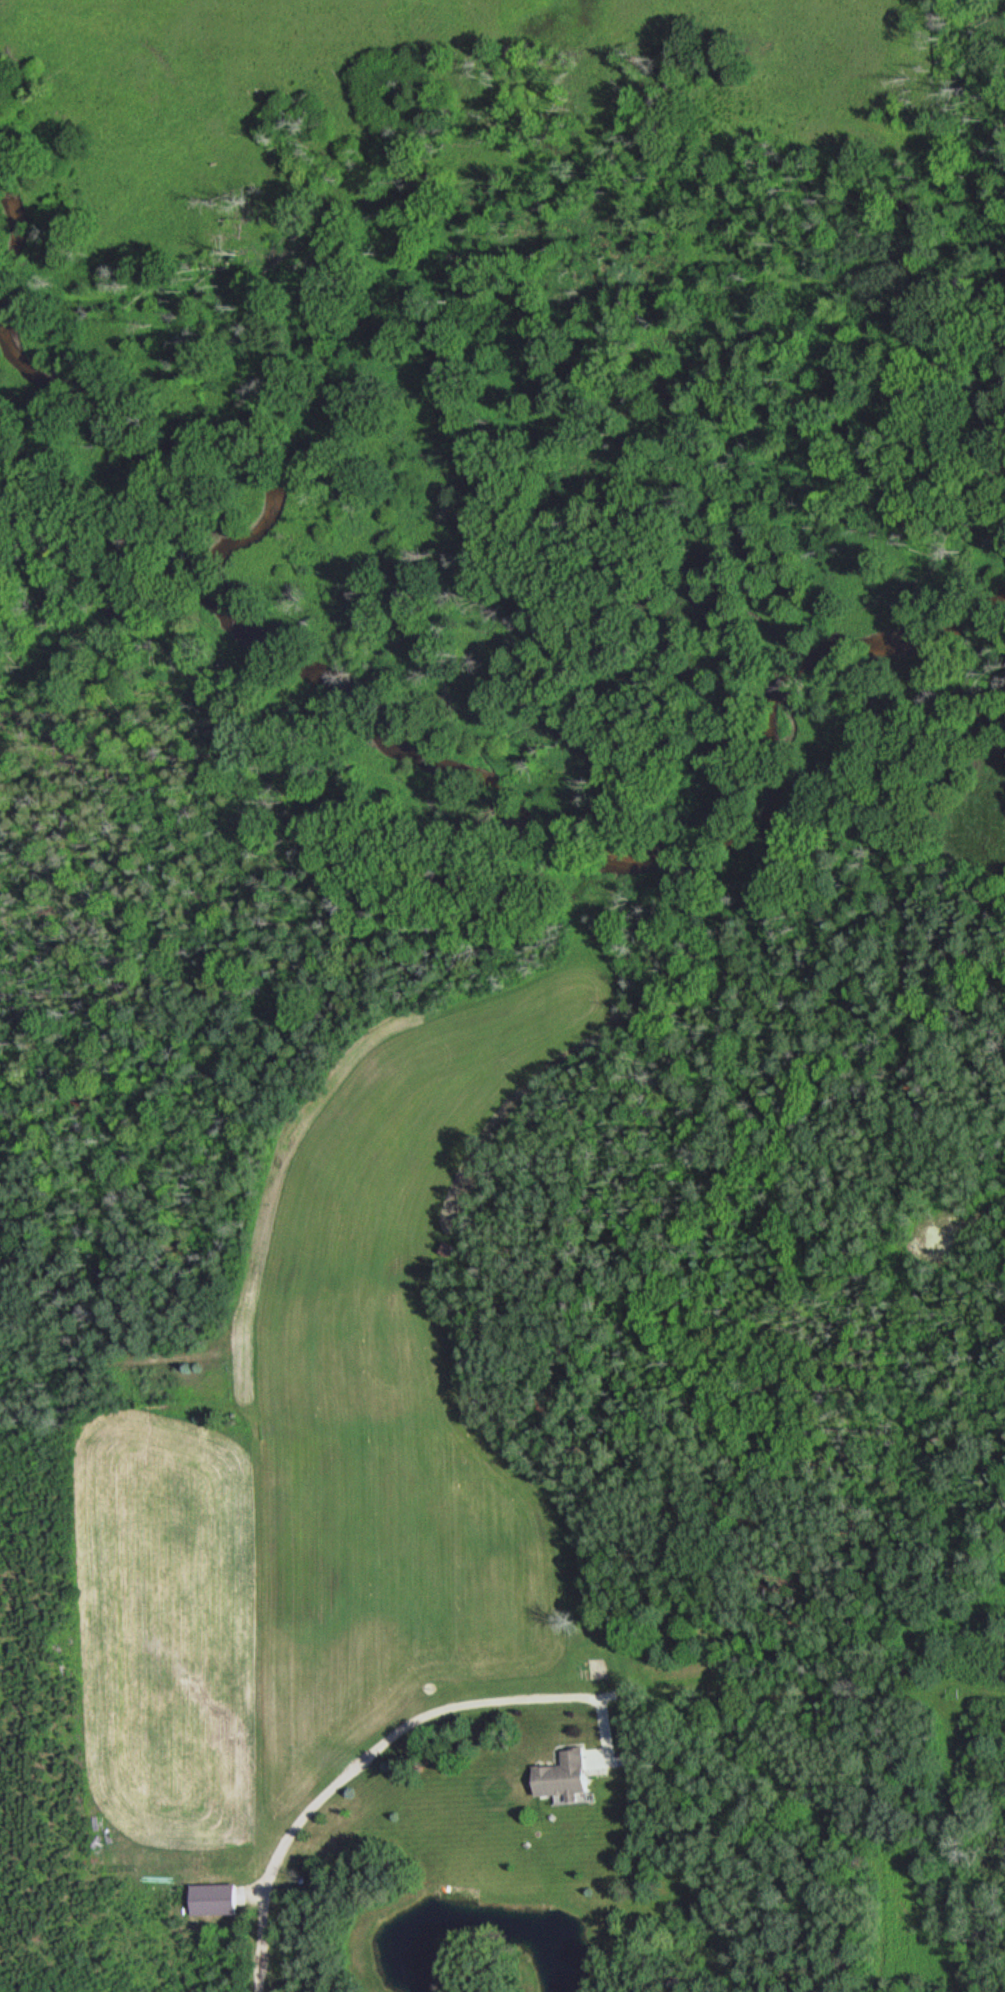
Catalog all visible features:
river: (11, 228)
river: (421, 754)
road: (965, 1224)
road: (390, 1739)
building: (557, 1777)
building: (210, 1899)

